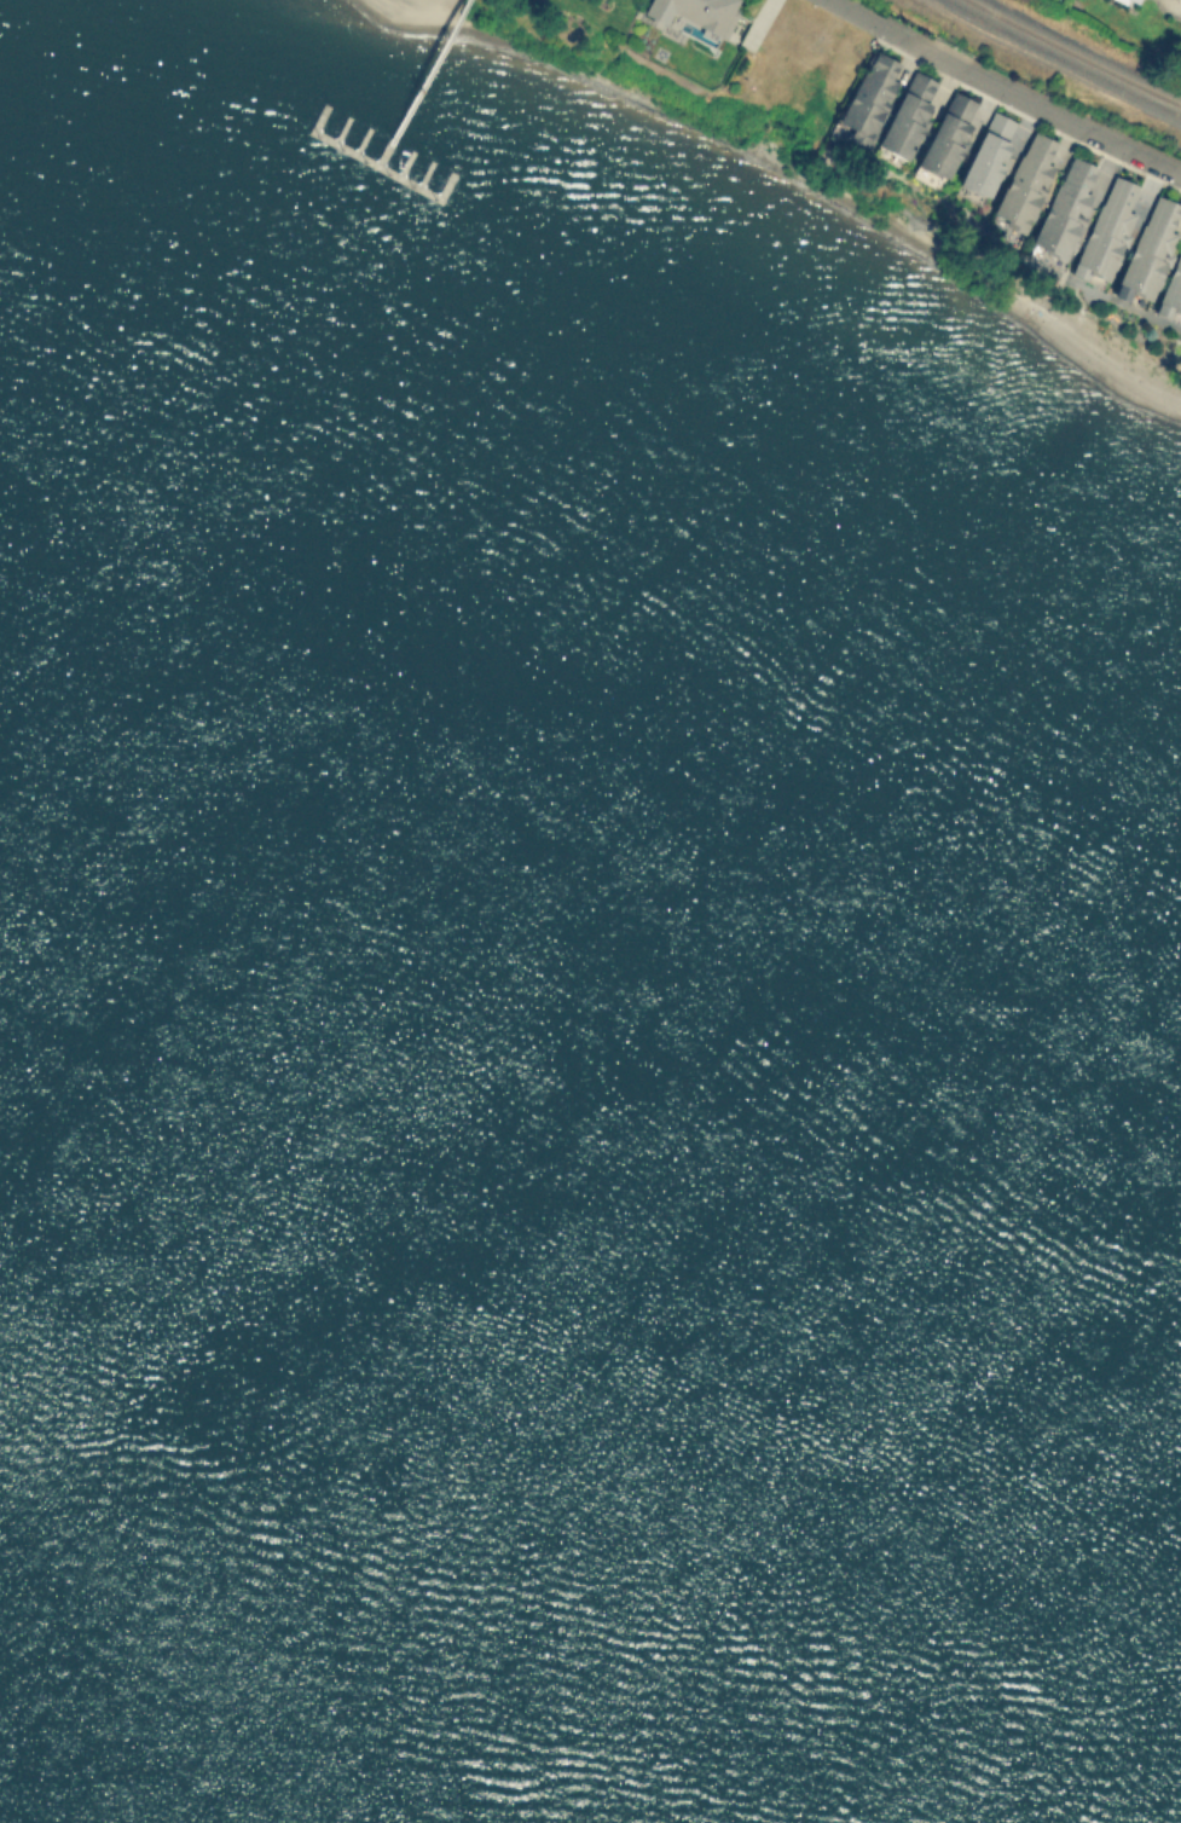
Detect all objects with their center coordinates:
building: (1130, 1)
road: (855, 10)
building: (695, 13)
railway: (1075, 53)
pier: (419, 82)
building: (868, 97)
road: (1026, 99)
building: (907, 115)
building: (946, 133)
building: (988, 154)
pier: (375, 164)
building: (1024, 184)
building: (1140, 204)
building: (1064, 208)
building: (1106, 230)
building: (1150, 247)
building: (1171, 289)
river: (590, 1170)

